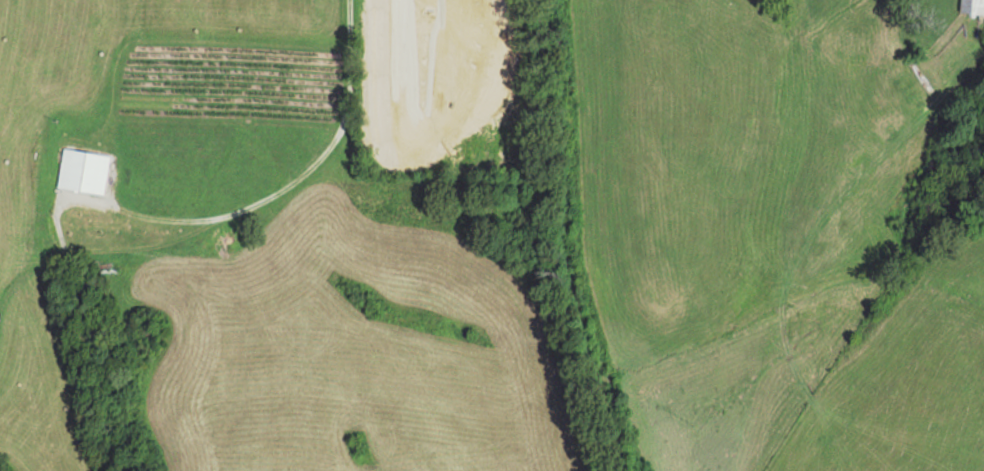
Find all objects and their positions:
building: (971, 6)
building: (907, 85)
building: (83, 171)

